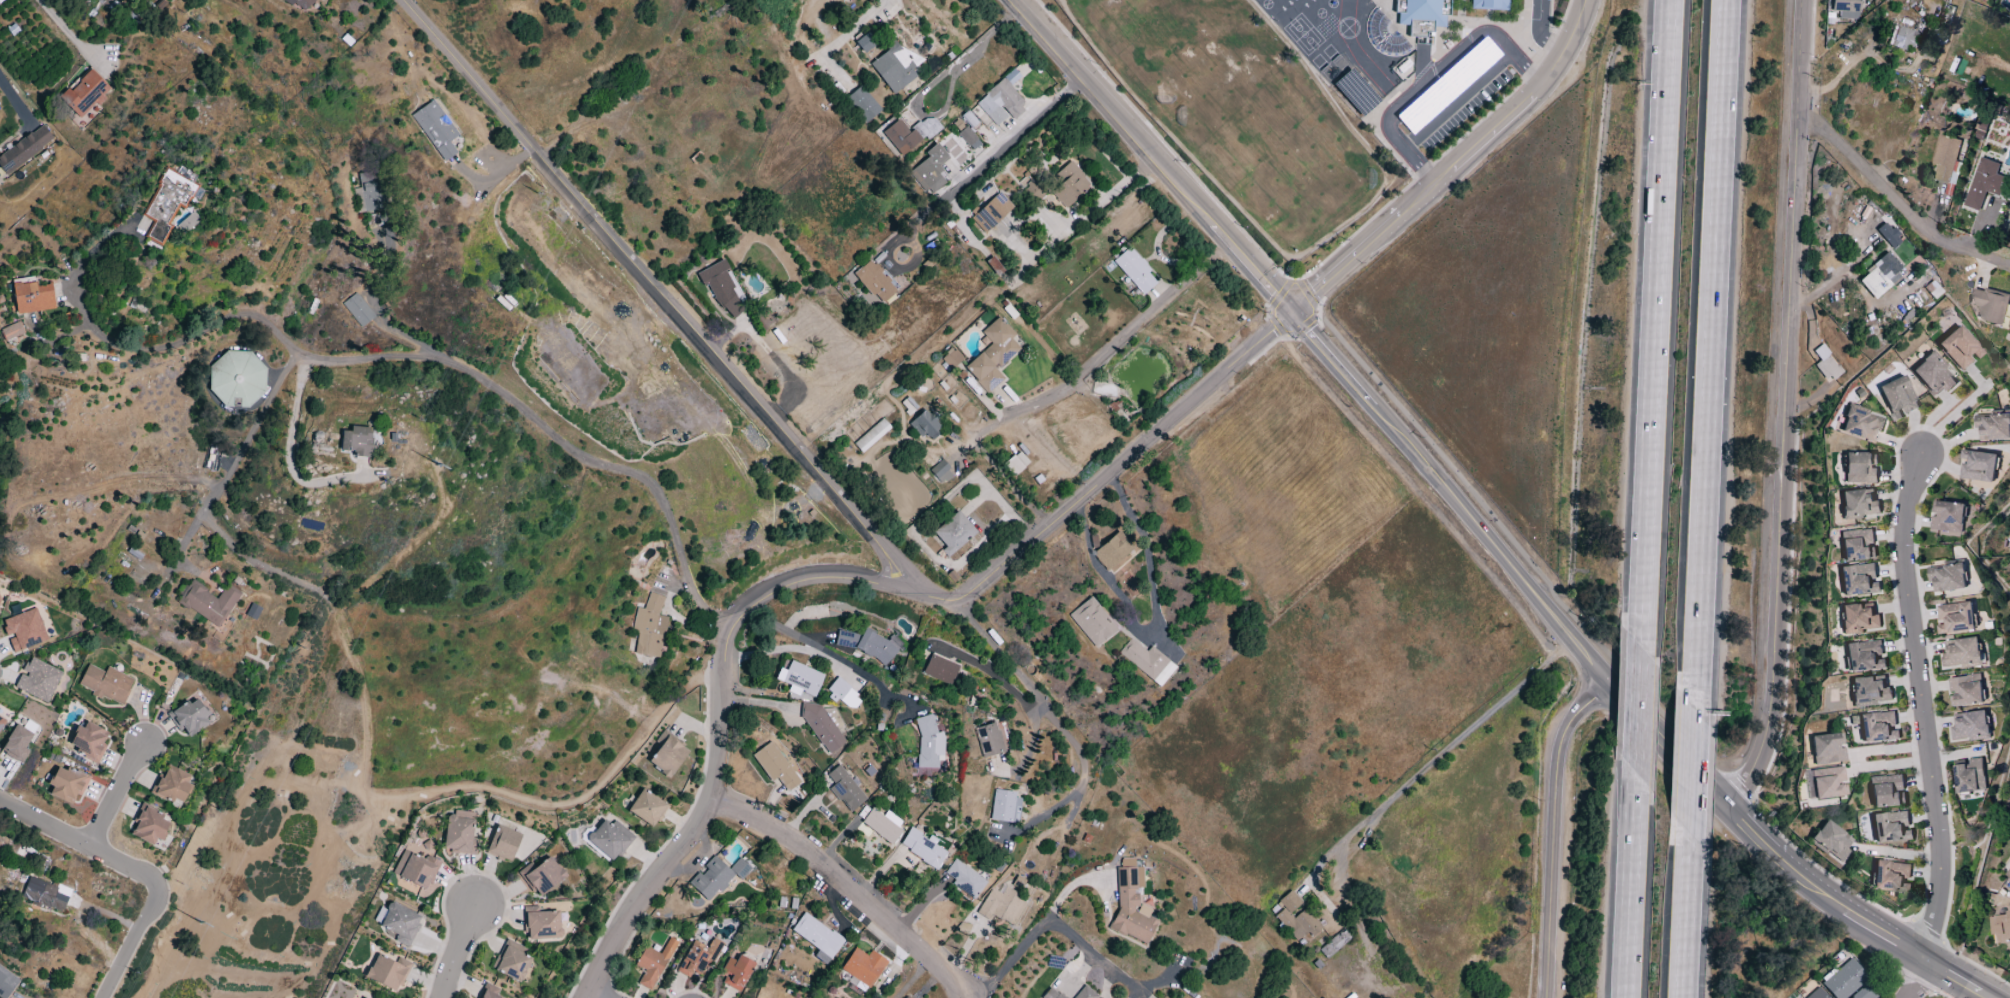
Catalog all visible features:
building: (294, 2)
building: (1845, 9)
road: (1539, 32)
road: (69, 33)
park: (1302, 34)
road: (845, 35)
building: (1902, 39)
building: (865, 43)
road: (969, 49)
building: (894, 65)
road: (1435, 73)
road: (1841, 75)
building: (1316, 92)
building: (84, 93)
building: (1001, 101)
road: (1457, 101)
road: (16, 102)
building: (861, 105)
park: (1246, 120)
building: (436, 129)
building: (900, 137)
building: (968, 138)
road: (1003, 148)
building: (24, 149)
road: (1152, 156)
building: (1947, 158)
road: (1452, 166)
building: (930, 170)
road: (494, 179)
building: (1983, 182)
building: (1069, 184)
building: (1035, 190)
building: (371, 192)
road: (1895, 203)
building: (167, 205)
building: (991, 212)
road: (1082, 217)
building: (191, 219)
building: (1887, 235)
road: (892, 264)
building: (1135, 271)
building: (1879, 277)
road: (1826, 280)
building: (874, 282)
building: (722, 289)
road: (1655, 296)
building: (33, 298)
building: (1990, 304)
road: (1156, 308)
building: (358, 310)
road: (1710, 324)
building: (1959, 348)
building: (992, 356)
road: (398, 359)
building: (1826, 365)
building: (1933, 375)
building: (236, 379)
building: (1898, 397)
road: (754, 400)
road: (1036, 402)
road: (1783, 406)
road: (1952, 416)
building: (1861, 425)
building: (1992, 426)
building: (926, 427)
building: (871, 436)
building: (356, 441)
road: (284, 447)
road: (240, 448)
building: (1015, 464)
power tower: (436, 465)
building: (1977, 465)
building: (1860, 468)
building: (940, 472)
road: (1004, 475)
road: (1430, 476)
building: (1858, 504)
building: (1947, 516)
building: (953, 533)
building: (1857, 544)
building: (1113, 552)
road: (1766, 564)
building: (1947, 577)
building: (1858, 579)
road: (851, 580)
building: (208, 602)
building: (0, 603)
building: (252, 611)
building: (1955, 617)
building: (1858, 618)
building: (1092, 623)
building: (650, 628)
building: (24, 630)
building: (868, 645)
building: (1962, 653)
building: (1864, 655)
road: (835, 657)
building: (1147, 662)
building: (939, 669)
road: (992, 675)
building: (800, 679)
building: (37, 680)
building: (106, 684)
building: (1965, 690)
building: (1869, 691)
building: (843, 694)
road: (1919, 705)
road: (1638, 709)
building: (189, 717)
building: (1, 721)
building: (1970, 725)
building: (824, 726)
building: (1878, 726)
building: (987, 740)
building: (89, 741)
building: (928, 743)
building: (16, 744)
building: (1827, 749)
road: (1692, 751)
building: (667, 757)
road: (1435, 758)
building: (775, 766)
building: (1970, 775)
building: (1827, 782)
building: (66, 785)
building: (172, 785)
building: (845, 789)
road: (469, 790)
building: (1887, 791)
road: (118, 796)
building: (1004, 806)
building: (646, 808)
road: (592, 813)
building: (149, 826)
building: (883, 826)
building: (1891, 827)
road: (1553, 829)
building: (459, 834)
building: (609, 839)
road: (1761, 841)
building: (1831, 841)
building: (502, 844)
building: (922, 848)
building: (415, 869)
road: (139, 872)
building: (1891, 875)
building: (2008, 875)
building: (541, 876)
building: (717, 877)
road: (1632, 879)
building: (964, 880)
park: (273, 881)
road: (849, 888)
building: (45, 894)
building: (1131, 904)
building: (1002, 905)
building: (1294, 917)
power tower: (200, 923)
building: (400, 923)
building: (542, 925)
road: (1684, 925)
building: (2000, 926)
building: (817, 938)
building: (1334, 944)
road: (455, 951)
road: (1096, 955)
building: (697, 958)
road: (1013, 958)
building: (511, 961)
building: (653, 963)
road: (1625, 965)
road: (1628, 965)
building: (863, 967)
building: (385, 973)
building: (736, 973)
road: (912, 978)
building: (1845, 980)
road: (1920, 982)
building: (6, 983)
building: (1085, 993)
building: (1863, 993)
road: (592, 994)
building: (1051, 994)
building: (1816, 994)
building: (487, 995)
building: (907, 996)

